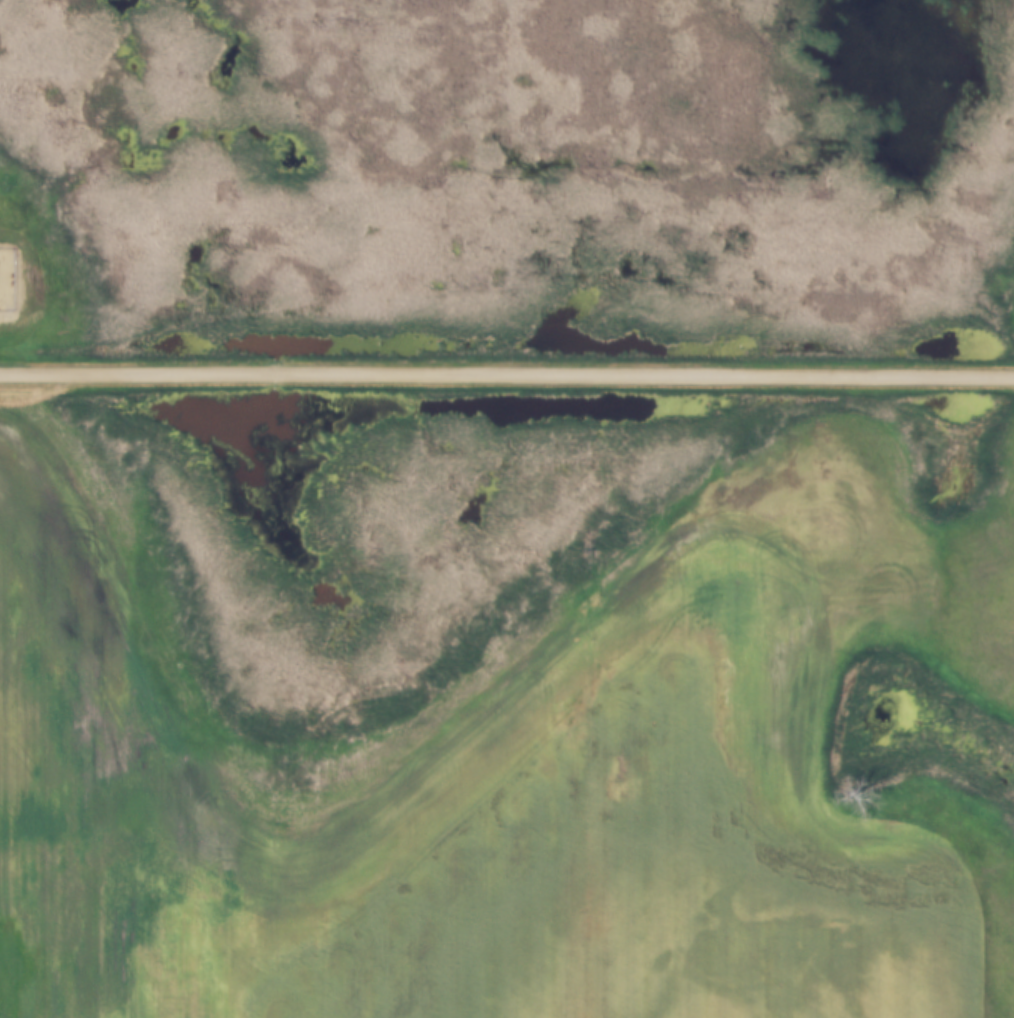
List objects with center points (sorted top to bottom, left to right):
power substation: (5, 280)
road: (506, 374)

